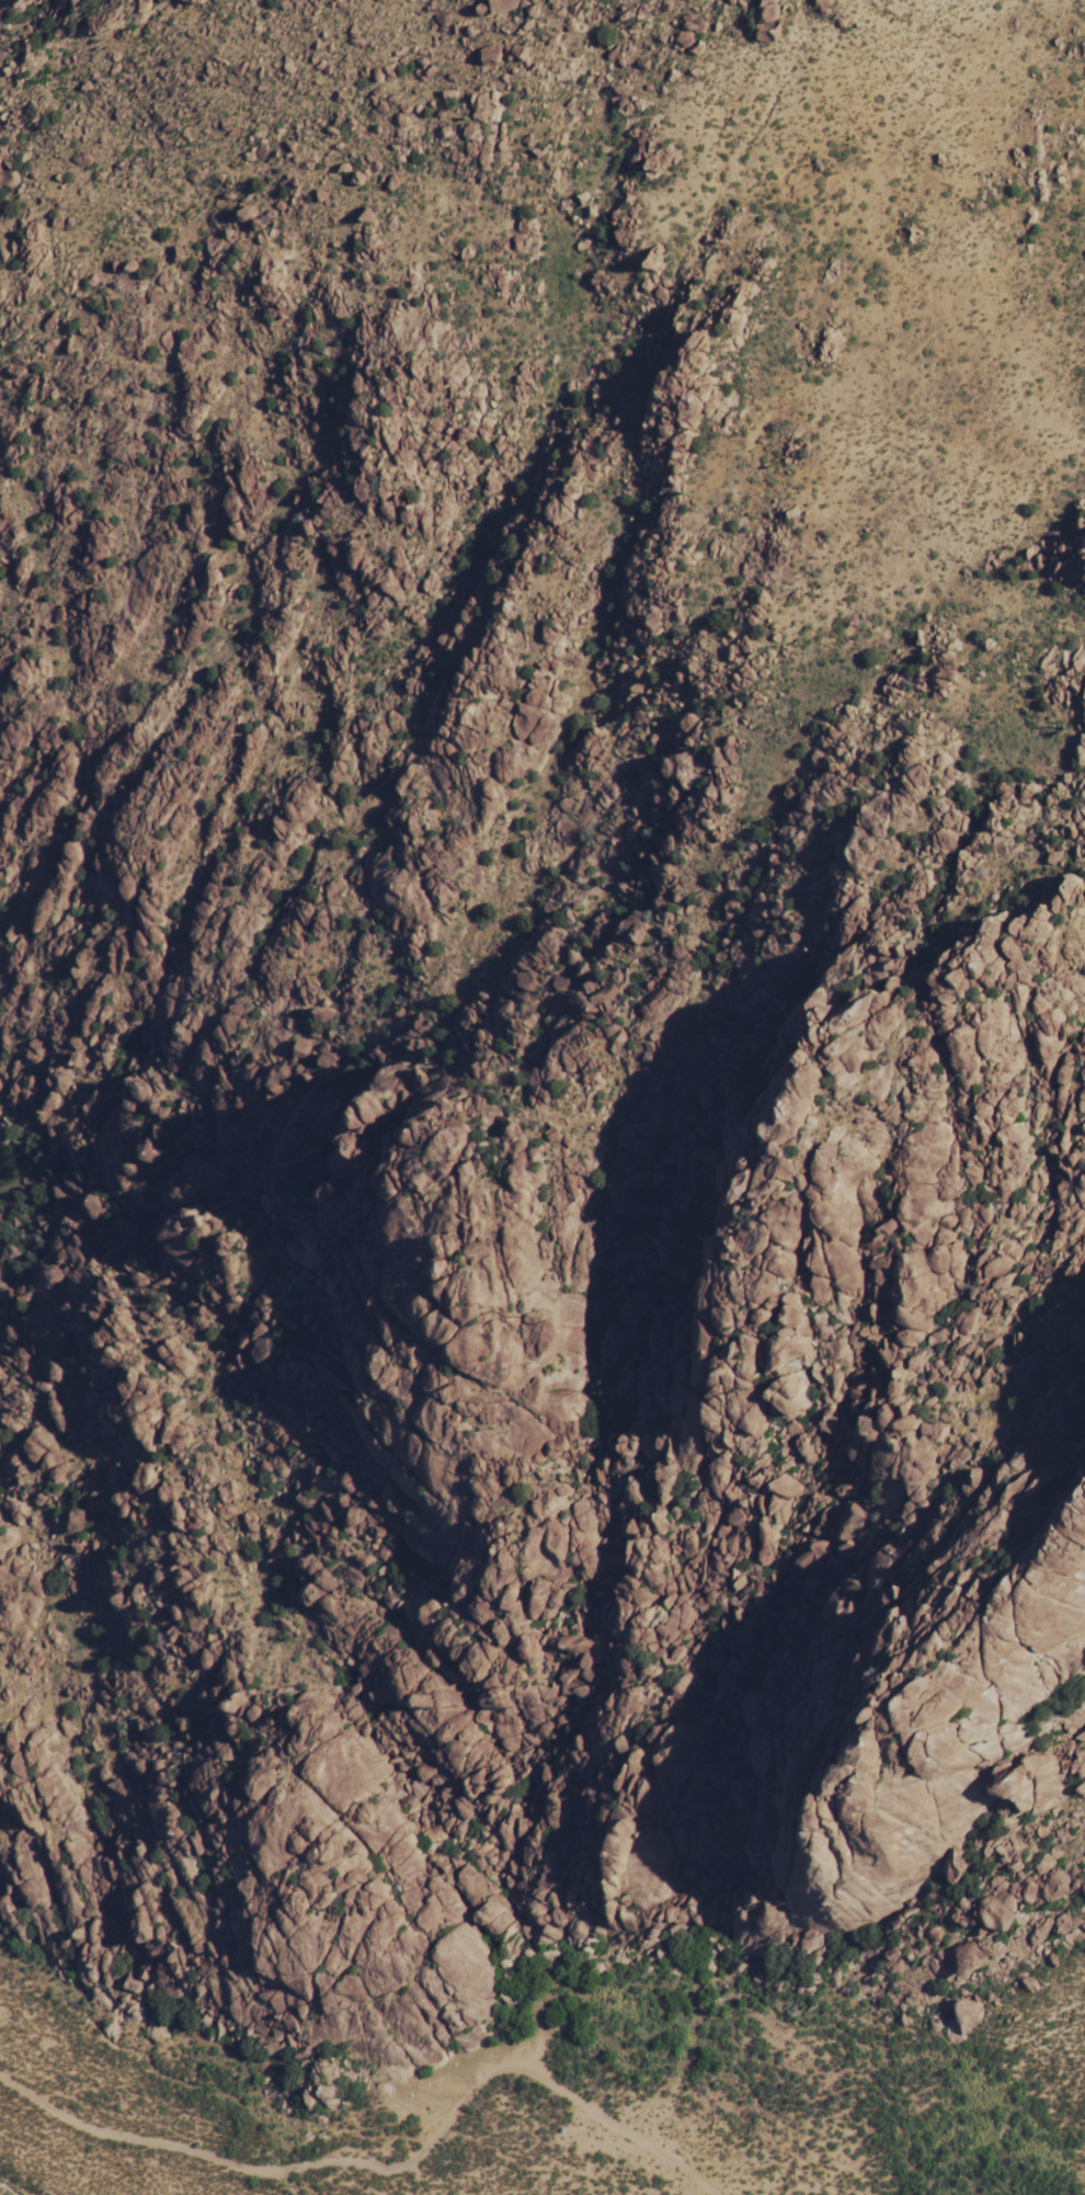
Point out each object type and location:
road: (362, 2154)

